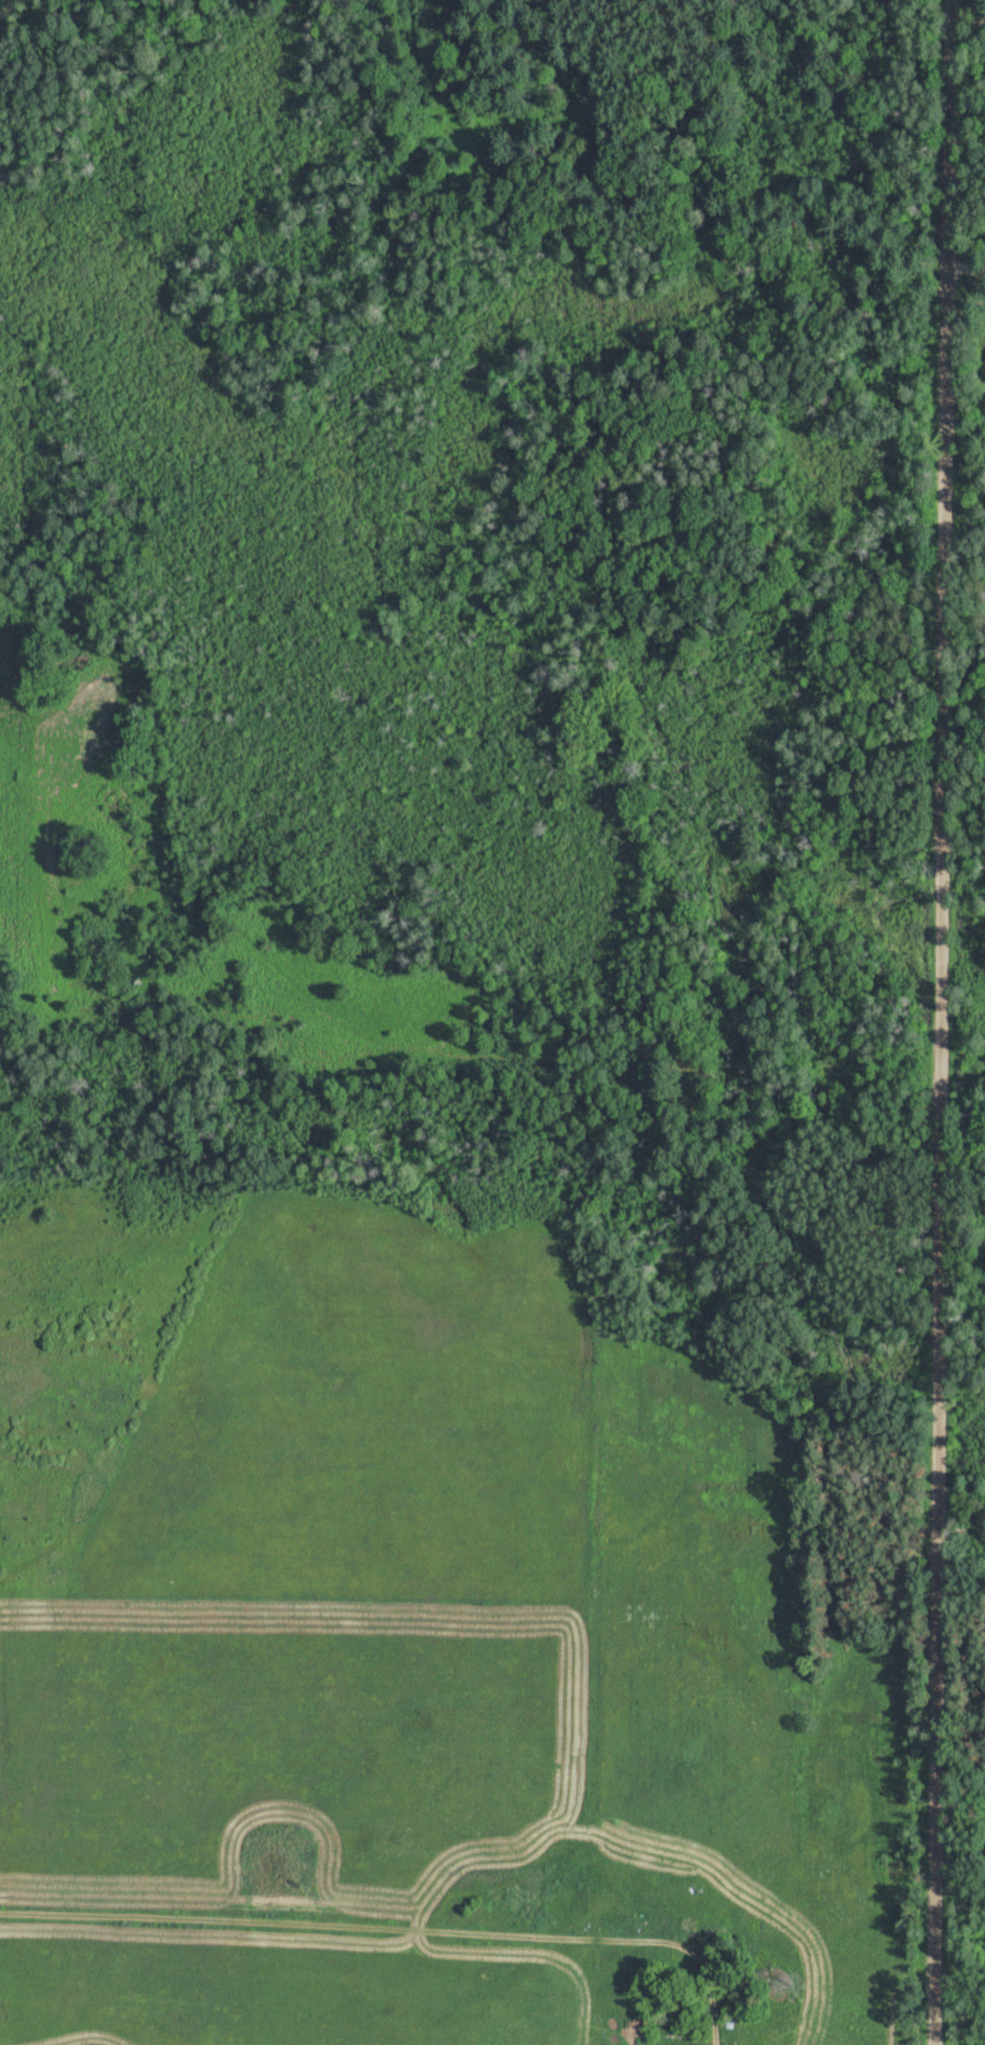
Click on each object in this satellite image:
road: (954, 1022)
road: (351, 1987)
building: (644, 2042)

